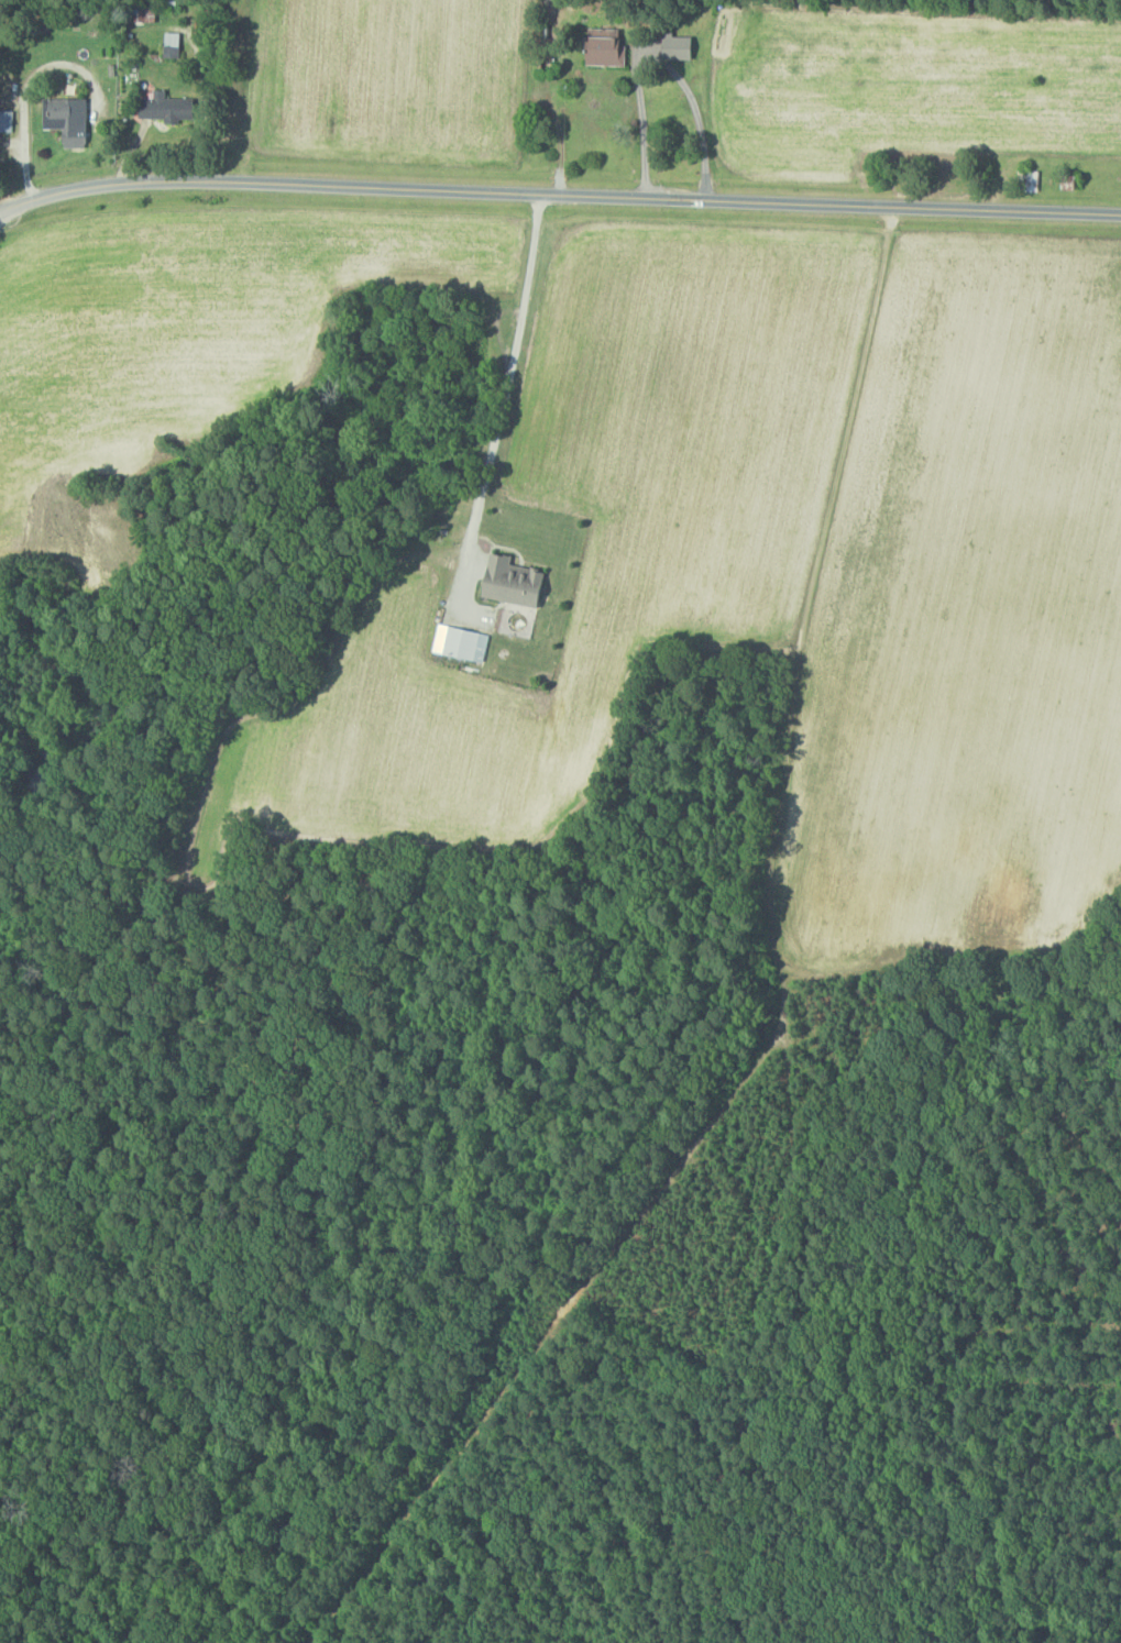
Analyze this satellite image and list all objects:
building: (174, 45)
building: (673, 46)
building: (602, 49)
road: (652, 57)
road: (31, 91)
building: (173, 108)
building: (73, 120)
road: (558, 199)
road: (504, 401)
building: (509, 583)
road: (795, 622)
building: (458, 642)

